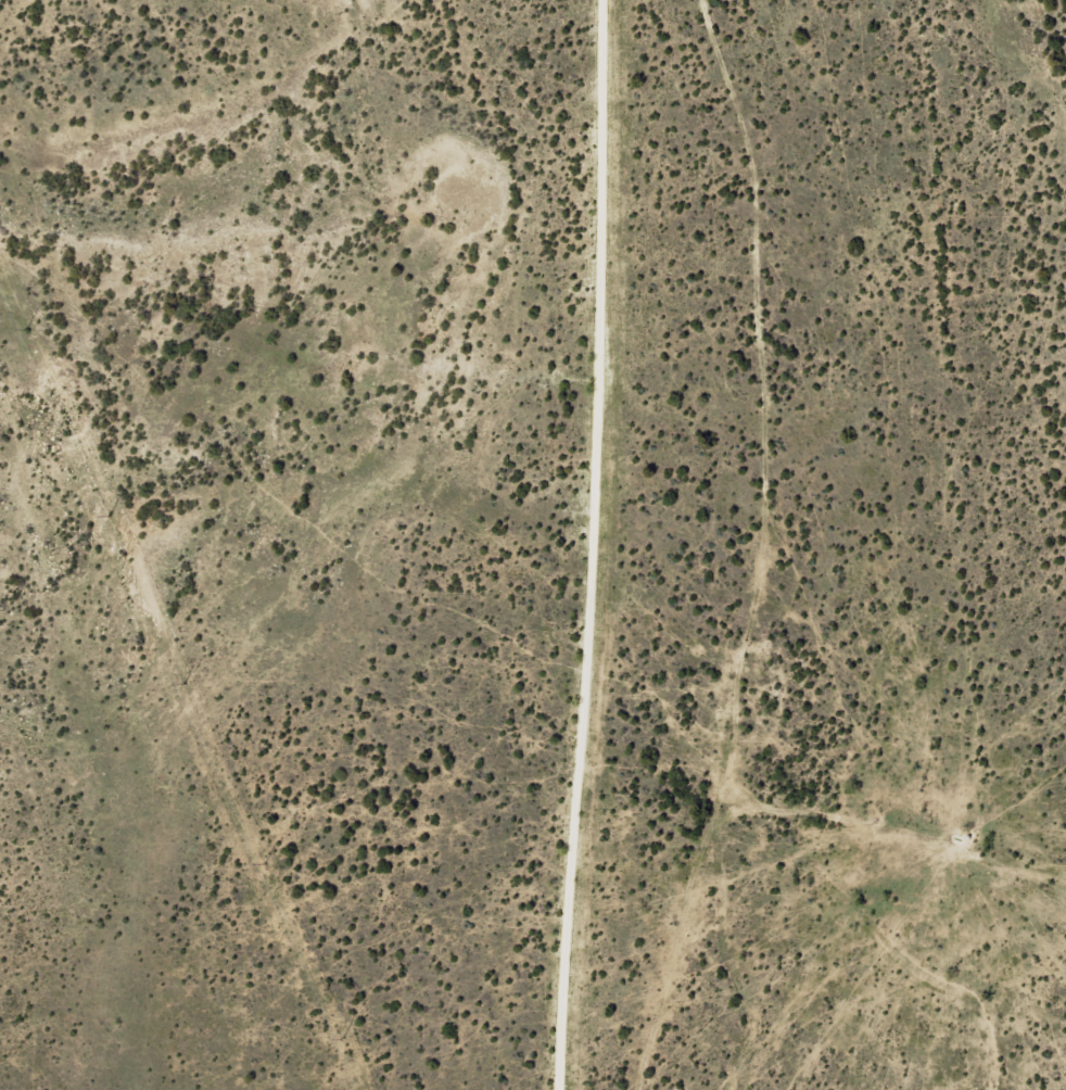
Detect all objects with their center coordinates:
road: (770, 546)
road: (880, 858)

